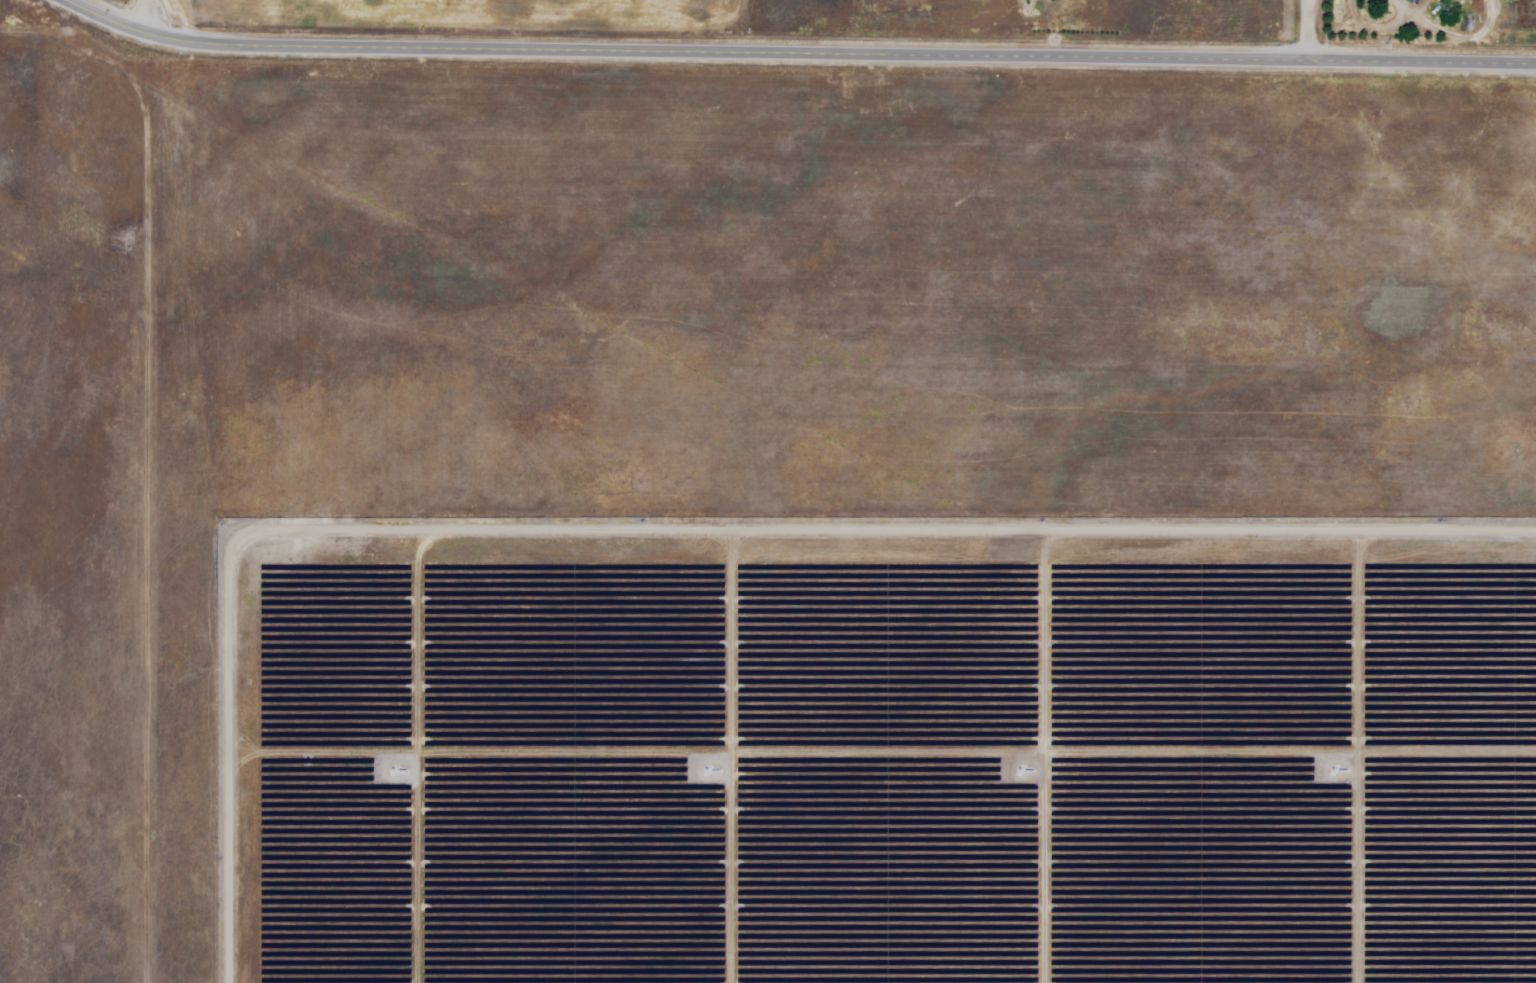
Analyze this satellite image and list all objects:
building: (1410, 1)
road: (147, 17)
road: (1312, 30)
road: (797, 53)
solar farm: (762, 525)

